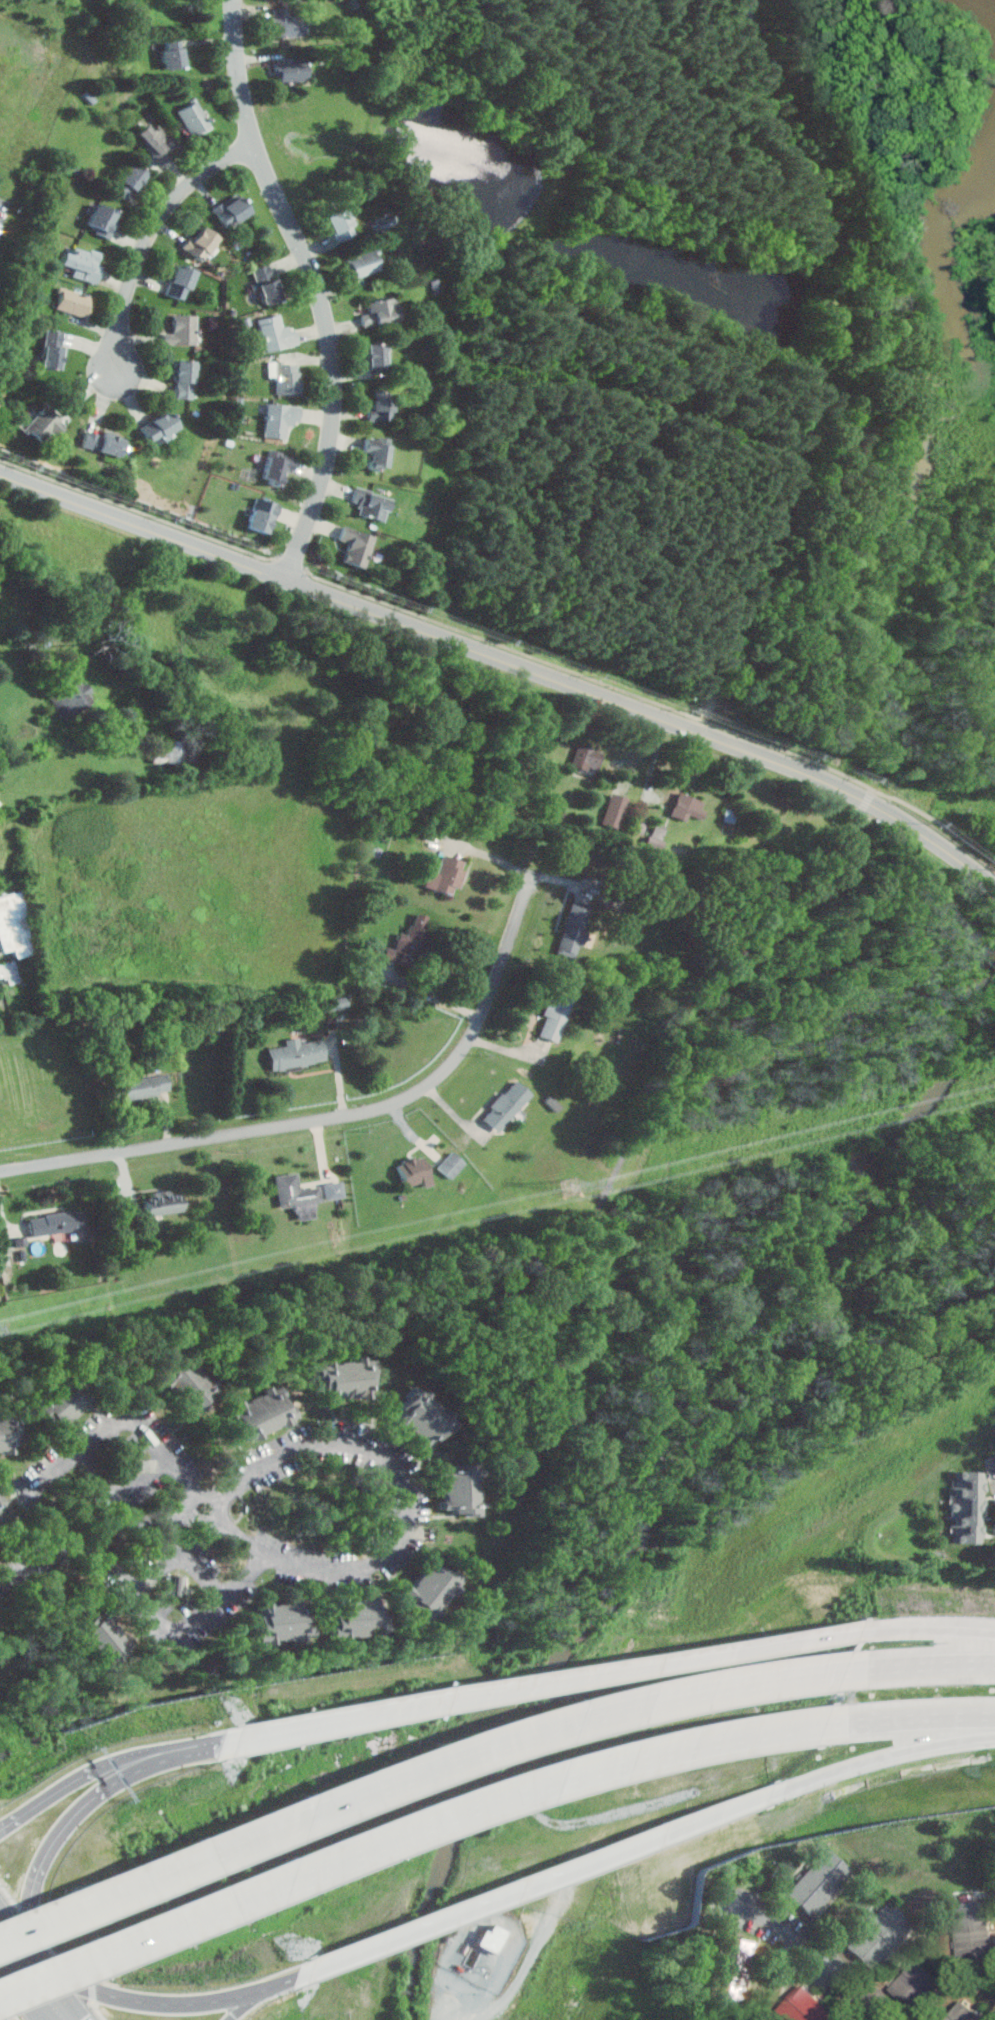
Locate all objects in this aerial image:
building: (285, 23)
building: (173, 53)
building: (290, 70)
building: (193, 118)
building: (155, 141)
road: (907, 143)
building: (128, 181)
building: (229, 210)
building: (101, 220)
building: (343, 223)
road: (151, 235)
building: (199, 242)
building: (82, 263)
building: (363, 264)
building: (178, 282)
building: (265, 284)
road: (317, 287)
building: (73, 302)
building: (383, 311)
building: (181, 331)
building: (276, 333)
building: (50, 350)
road: (837, 351)
building: (379, 355)
building: (287, 377)
building: (182, 380)
building: (383, 405)
building: (280, 420)
building: (46, 425)
building: (158, 427)
building: (102, 443)
building: (379, 451)
building: (275, 468)
building: (374, 503)
building: (262, 516)
building: (358, 546)
road: (293, 562)
road: (504, 659)
road: (592, 677)
parking lot: (719, 687)
building: (80, 694)
road: (713, 703)
building: (588, 757)
road: (655, 766)
road: (885, 794)
road: (870, 801)
building: (687, 807)
road: (947, 826)
road: (495, 856)
building: (446, 874)
road: (993, 882)
building: (15, 925)
building: (575, 927)
building: (412, 939)
building: (10, 971)
road: (432, 992)
building: (556, 1013)
building: (297, 1053)
building: (146, 1085)
building: (507, 1104)
river: (910, 1113)
road: (335, 1116)
building: (452, 1164)
building: (417, 1170)
power tower: (574, 1186)
building: (335, 1189)
building: (297, 1196)
building: (166, 1202)
building: (60, 1223)
road: (577, 1296)
building: (346, 1378)
building: (190, 1381)
building: (62, 1400)
building: (263, 1412)
building: (423, 1417)
building: (9, 1432)
road: (100, 1435)
river: (678, 1453)
building: (459, 1487)
road: (122, 1496)
building: (6, 1502)
road: (407, 1506)
building: (970, 1506)
road: (100, 1539)
road: (183, 1559)
building: (431, 1589)
building: (357, 1618)
building: (283, 1620)
road: (926, 1629)
road: (177, 1630)
building: (102, 1639)
road: (659, 1663)
road: (918, 1664)
building: (382, 1710)
road: (910, 1717)
road: (348, 1721)
road: (212, 1746)
road: (880, 1756)
road: (145, 1757)
road: (412, 1773)
building: (562, 1778)
road: (49, 1795)
road: (74, 1814)
road: (682, 1826)
river: (459, 1828)
road: (404, 1831)
building: (821, 1882)
traffic signals: (33, 1895)
building: (495, 1897)
road: (452, 1913)
road: (11, 1921)
building: (972, 1931)
building: (881, 1935)
building: (492, 1938)
road: (808, 1949)
road: (20, 1950)
road: (37, 1955)
road: (8, 1961)
building: (733, 1968)
road: (34, 1969)
road: (14, 1974)
road: (6, 1976)
building: (913, 1986)
road: (68, 1997)
road: (247, 1998)
road: (182, 2000)
road: (8, 2002)
road: (25, 2002)
building: (805, 2007)
building: (963, 2013)
traffic signals: (5, 2014)

